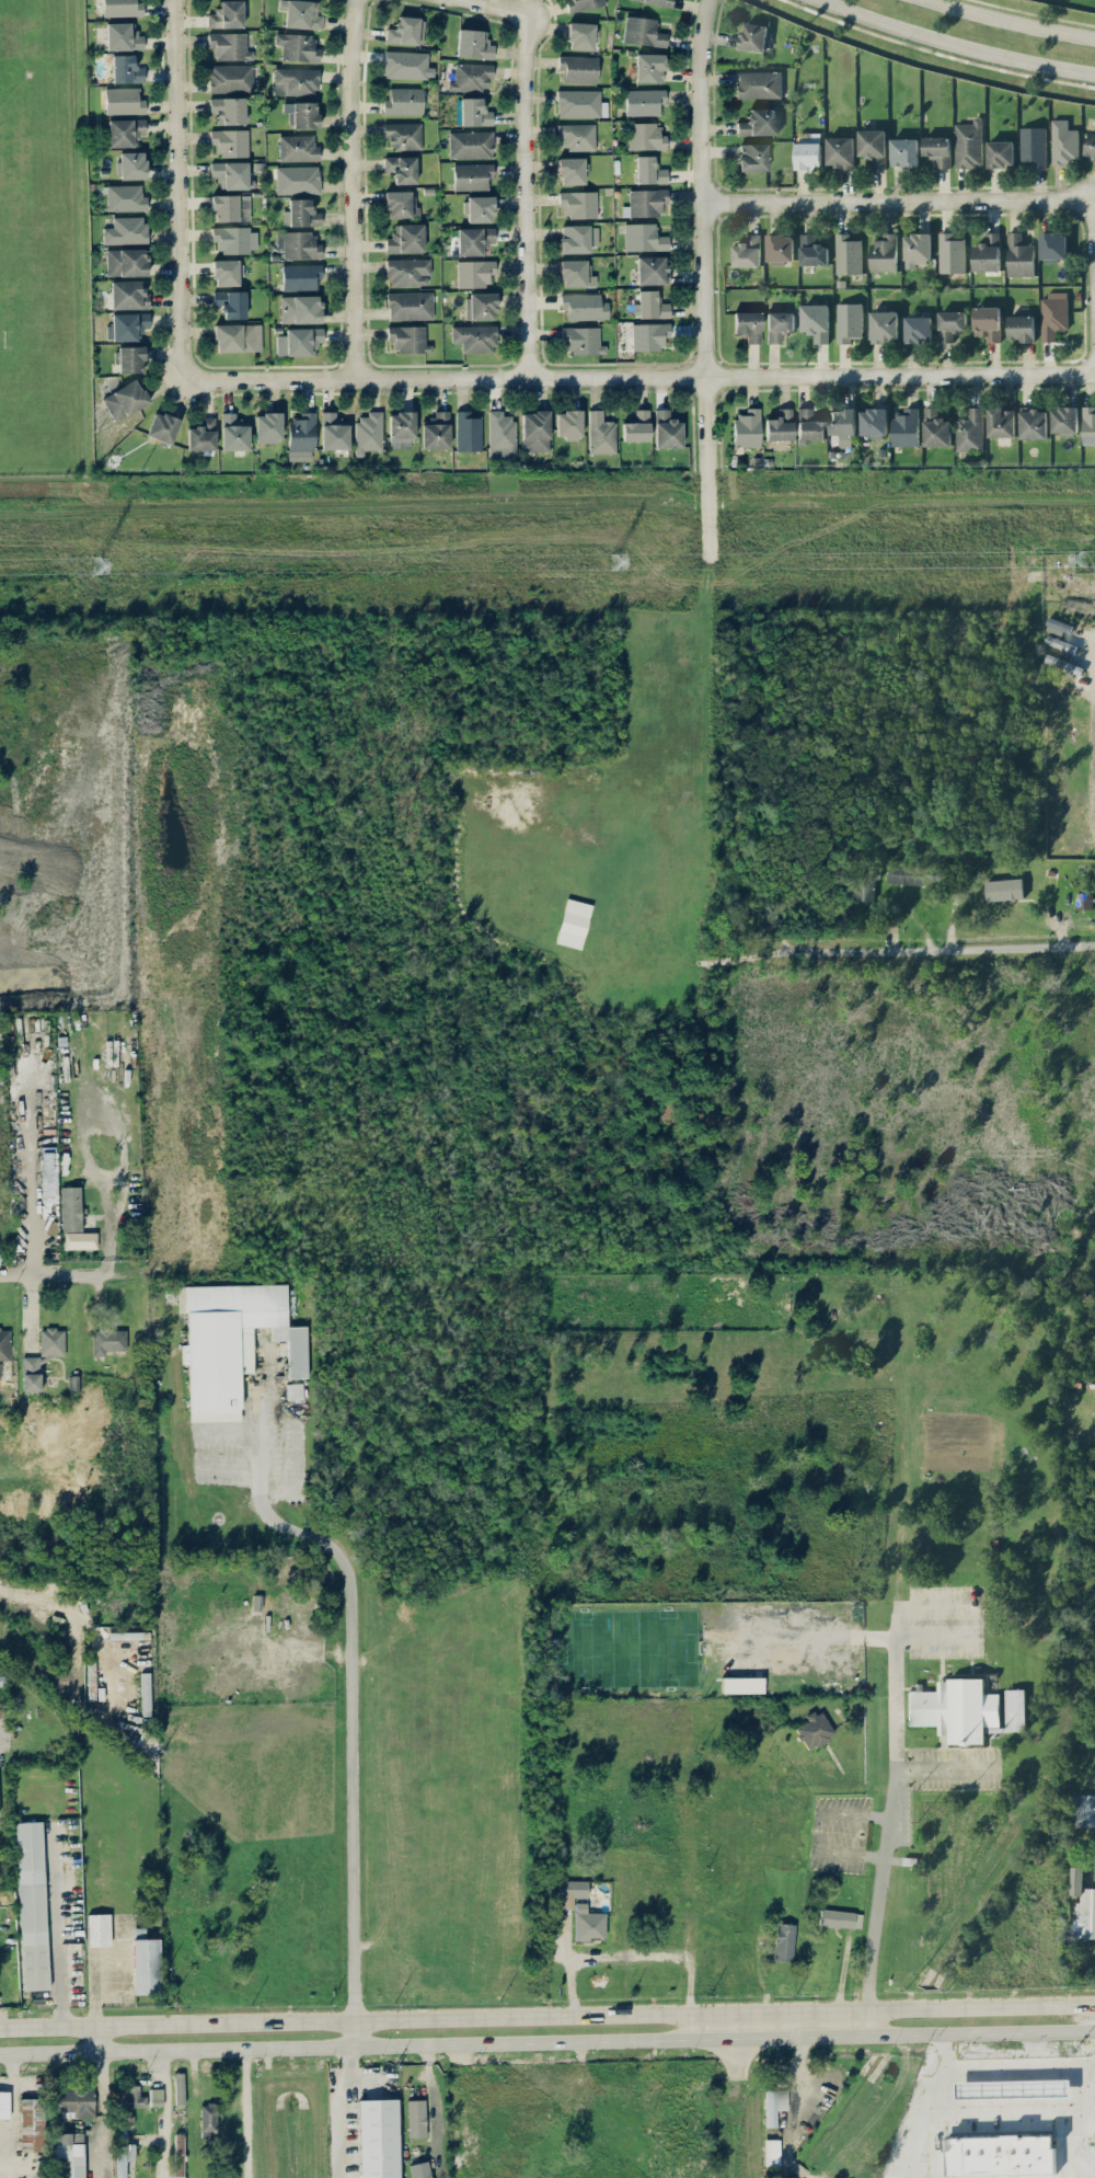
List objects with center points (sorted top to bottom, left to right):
building: (656, 1)
building: (584, 3)
road: (495, 7)
building: (122, 8)
road: (1045, 9)
building: (301, 13)
building: (227, 14)
road: (1011, 21)
building: (406, 31)
building: (643, 32)
building: (580, 35)
building: (123, 36)
building: (753, 36)
building: (474, 44)
road: (953, 44)
building: (229, 46)
building: (298, 47)
building: (407, 65)
building: (649, 67)
building: (579, 68)
building: (126, 69)
building: (471, 77)
building: (231, 78)
building: (296, 81)
building: (759, 84)
building: (124, 101)
building: (404, 101)
building: (644, 101)
building: (580, 103)
building: (228, 110)
building: (474, 112)
building: (302, 114)
building: (758, 122)
building: (125, 131)
building: (403, 135)
building: (577, 136)
building: (645, 136)
building: (230, 141)
building: (1064, 141)
building: (969, 144)
building: (1091, 144)
building: (471, 145)
building: (1033, 145)
building: (873, 146)
building: (298, 148)
building: (938, 149)
building: (840, 150)
building: (903, 151)
building: (1001, 152)
building: (752, 157)
building: (131, 164)
building: (402, 169)
building: (570, 170)
building: (649, 170)
building: (230, 174)
building: (472, 175)
building: (298, 179)
road: (177, 188)
road: (353, 188)
road: (526, 195)
building: (125, 197)
road: (899, 200)
building: (646, 202)
building: (401, 204)
building: (578, 204)
building: (231, 207)
building: (479, 208)
building: (300, 214)
building: (125, 230)
building: (644, 237)
building: (405, 238)
building: (578, 238)
building: (235, 239)
building: (474, 240)
building: (299, 244)
building: (1053, 245)
building: (780, 248)
building: (917, 248)
building: (812, 250)
building: (747, 251)
building: (884, 252)
building: (987, 252)
building: (848, 253)
building: (950, 253)
building: (1019, 255)
building: (126, 262)
building: (652, 270)
building: (408, 271)
building: (227, 272)
building: (475, 273)
building: (576, 273)
building: (300, 276)
road: (705, 277)
building: (128, 295)
building: (231, 302)
building: (410, 305)
building: (652, 305)
building: (481, 306)
building: (584, 306)
building: (300, 309)
building: (1053, 314)
building: (816, 321)
building: (849, 321)
building: (987, 322)
building: (950, 323)
building: (748, 324)
building: (779, 324)
building: (126, 325)
building: (884, 325)
building: (1022, 326)
building: (918, 328)
building: (649, 335)
building: (238, 337)
building: (474, 337)
building: (408, 339)
building: (581, 340)
building: (299, 341)
building: (130, 358)
road: (638, 376)
building: (125, 399)
building: (1064, 420)
building: (842, 421)
building: (874, 421)
building: (1001, 421)
building: (1034, 422)
building: (568, 424)
building: (1088, 424)
building: (780, 425)
building: (268, 426)
building: (808, 426)
building: (906, 426)
building: (162, 427)
building: (636, 427)
building: (936, 427)
building: (401, 428)
building: (747, 428)
building: (667, 429)
building: (970, 429)
building: (436, 431)
building: (469, 431)
building: (535, 431)
building: (334, 432)
building: (368, 432)
building: (233, 433)
building: (601, 433)
building: (500, 434)
building: (201, 435)
building: (301, 437)
power tower: (1077, 559)
power tower: (606, 563)
power tower: (102, 566)
road: (1093, 729)
building: (912, 874)
building: (865, 881)
building: (1004, 889)
building: (1083, 899)
building: (573, 922)
road: (946, 948)
building: (48, 1179)
road: (32, 1200)
building: (70, 1208)
building: (80, 1239)
road: (139, 1277)
building: (108, 1340)
building: (51, 1341)
building: (231, 1342)
building: (4, 1345)
building: (31, 1374)
building: (295, 1390)
road: (74, 1613)
road: (935, 1635)
road: (896, 1653)
building: (741, 1684)
road: (355, 1696)
building: (966, 1709)
building: (814, 1730)
building: (1082, 1810)
road: (821, 1830)
road: (886, 1847)
building: (1094, 1855)
building: (572, 1891)
building: (1082, 1902)
building: (32, 1905)
building: (840, 1918)
building: (589, 1923)
building: (99, 1929)
road: (57, 1930)
building: (784, 1941)
road: (630, 1955)
building: (146, 1965)
road: (94, 1988)
road: (546, 2016)
road: (727, 2027)
road: (547, 2043)
road: (729, 2064)
road: (1001, 2068)
building: (178, 2087)
building: (135, 2097)
building: (155, 2097)
road: (103, 2101)
building: (73, 2102)
building: (4, 2104)
road: (433, 2104)
building: (774, 2105)
road: (1010, 2111)
road: (246, 2112)
road: (349, 2112)
road: (166, 2113)
road: (12, 2116)
building: (208, 2118)
building: (416, 2118)
building: (32, 2124)
building: (378, 2137)
building: (178, 2150)
building: (771, 2152)
building: (123, 2153)
building: (69, 2155)
building: (419, 2169)

